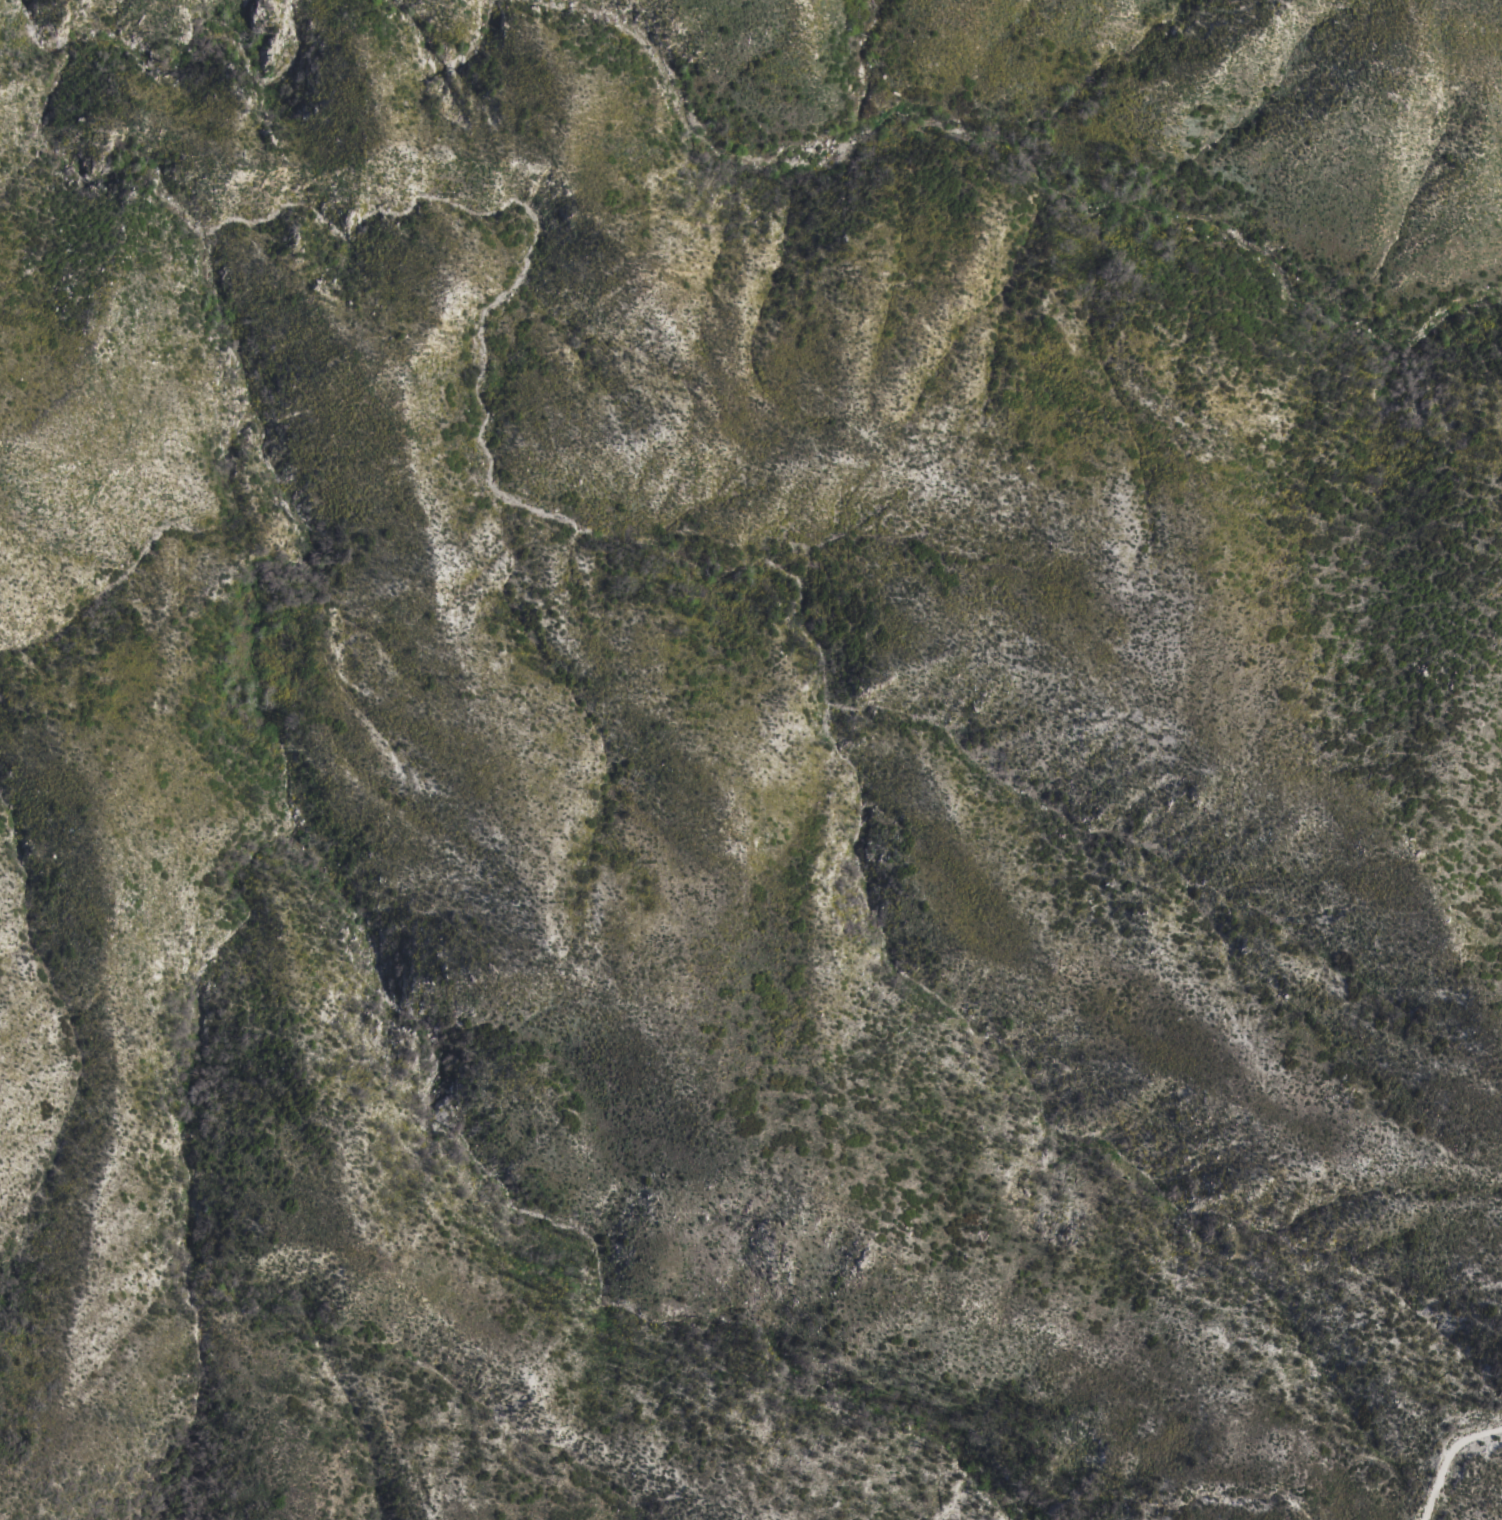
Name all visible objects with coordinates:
road: (1452, 1456)

